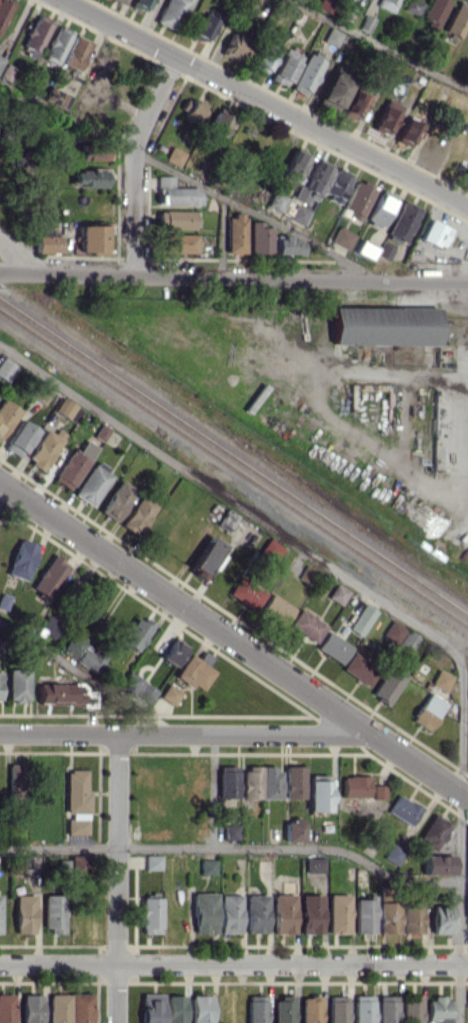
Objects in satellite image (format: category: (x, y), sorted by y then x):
building: (302, 0)
building: (119, 1)
building: (140, 4)
building: (386, 4)
building: (325, 5)
building: (412, 6)
building: (3, 10)
building: (433, 12)
building: (170, 13)
building: (457, 19)
building: (366, 23)
building: (202, 28)
building: (35, 34)
building: (331, 36)
building: (57, 44)
road: (379, 45)
building: (234, 46)
building: (75, 52)
building: (1, 59)
building: (263, 59)
building: (284, 67)
building: (6, 72)
building: (305, 74)
building: (334, 90)
building: (56, 98)
road: (264, 103)
building: (354, 105)
building: (190, 108)
building: (386, 116)
building: (216, 125)
building: (407, 132)
building: (92, 151)
building: (173, 156)
road: (133, 161)
building: (293, 167)
building: (88, 177)
road: (191, 179)
building: (311, 183)
building: (336, 185)
building: (174, 193)
building: (357, 199)
building: (276, 201)
building: (381, 208)
building: (299, 214)
building: (175, 219)
building: (403, 221)
building: (234, 233)
building: (435, 233)
building: (342, 237)
building: (92, 238)
building: (259, 238)
building: (45, 241)
building: (178, 243)
building: (288, 245)
building: (366, 249)
building: (384, 251)
road: (23, 258)
road: (234, 277)
building: (384, 325)
building: (6, 369)
road: (410, 375)
building: (41, 393)
building: (64, 408)
building: (74, 414)
building: (6, 415)
building: (101, 432)
building: (19, 438)
building: (44, 448)
railway: (234, 456)
building: (73, 465)
railway: (234, 467)
building: (92, 484)
building: (117, 500)
road: (13, 501)
building: (138, 515)
building: (227, 520)
building: (270, 549)
building: (205, 556)
building: (21, 559)
building: (307, 573)
building: (49, 576)
building: (246, 593)
building: (337, 594)
building: (4, 601)
road: (381, 602)
building: (276, 609)
building: (361, 619)
building: (306, 625)
building: (50, 626)
building: (393, 631)
building: (136, 633)
building: (408, 640)
road: (233, 641)
building: (74, 644)
building: (333, 647)
building: (173, 652)
building: (90, 660)
building: (359, 668)
building: (195, 671)
road: (86, 676)
building: (441, 680)
building: (17, 684)
building: (387, 685)
building: (138, 687)
building: (0, 690)
building: (58, 693)
building: (170, 694)
building: (428, 711)
road: (185, 734)
building: (15, 780)
building: (228, 782)
building: (261, 782)
building: (293, 782)
building: (355, 786)
road: (212, 791)
building: (379, 791)
building: (318, 792)
building: (76, 801)
building: (403, 810)
building: (293, 830)
building: (231, 832)
building: (433, 832)
road: (233, 849)
building: (393, 854)
building: (153, 862)
building: (78, 864)
building: (437, 864)
building: (314, 865)
building: (208, 866)
road: (117, 878)
building: (467, 897)
building: (53, 912)
building: (24, 913)
building: (204, 913)
building: (230, 913)
building: (256, 913)
building: (283, 913)
building: (311, 913)
building: (338, 913)
building: (151, 915)
building: (365, 915)
building: (388, 917)
building: (412, 917)
building: (441, 919)
road: (233, 964)
building: (467, 998)
building: (6, 1008)
building: (31, 1008)
building: (70, 1008)
building: (152, 1008)
building: (201, 1008)
building: (175, 1009)
building: (256, 1009)
building: (283, 1009)
building: (311, 1009)
building: (337, 1009)
building: (363, 1009)
building: (386, 1009)
building: (411, 1009)
building: (438, 1009)

